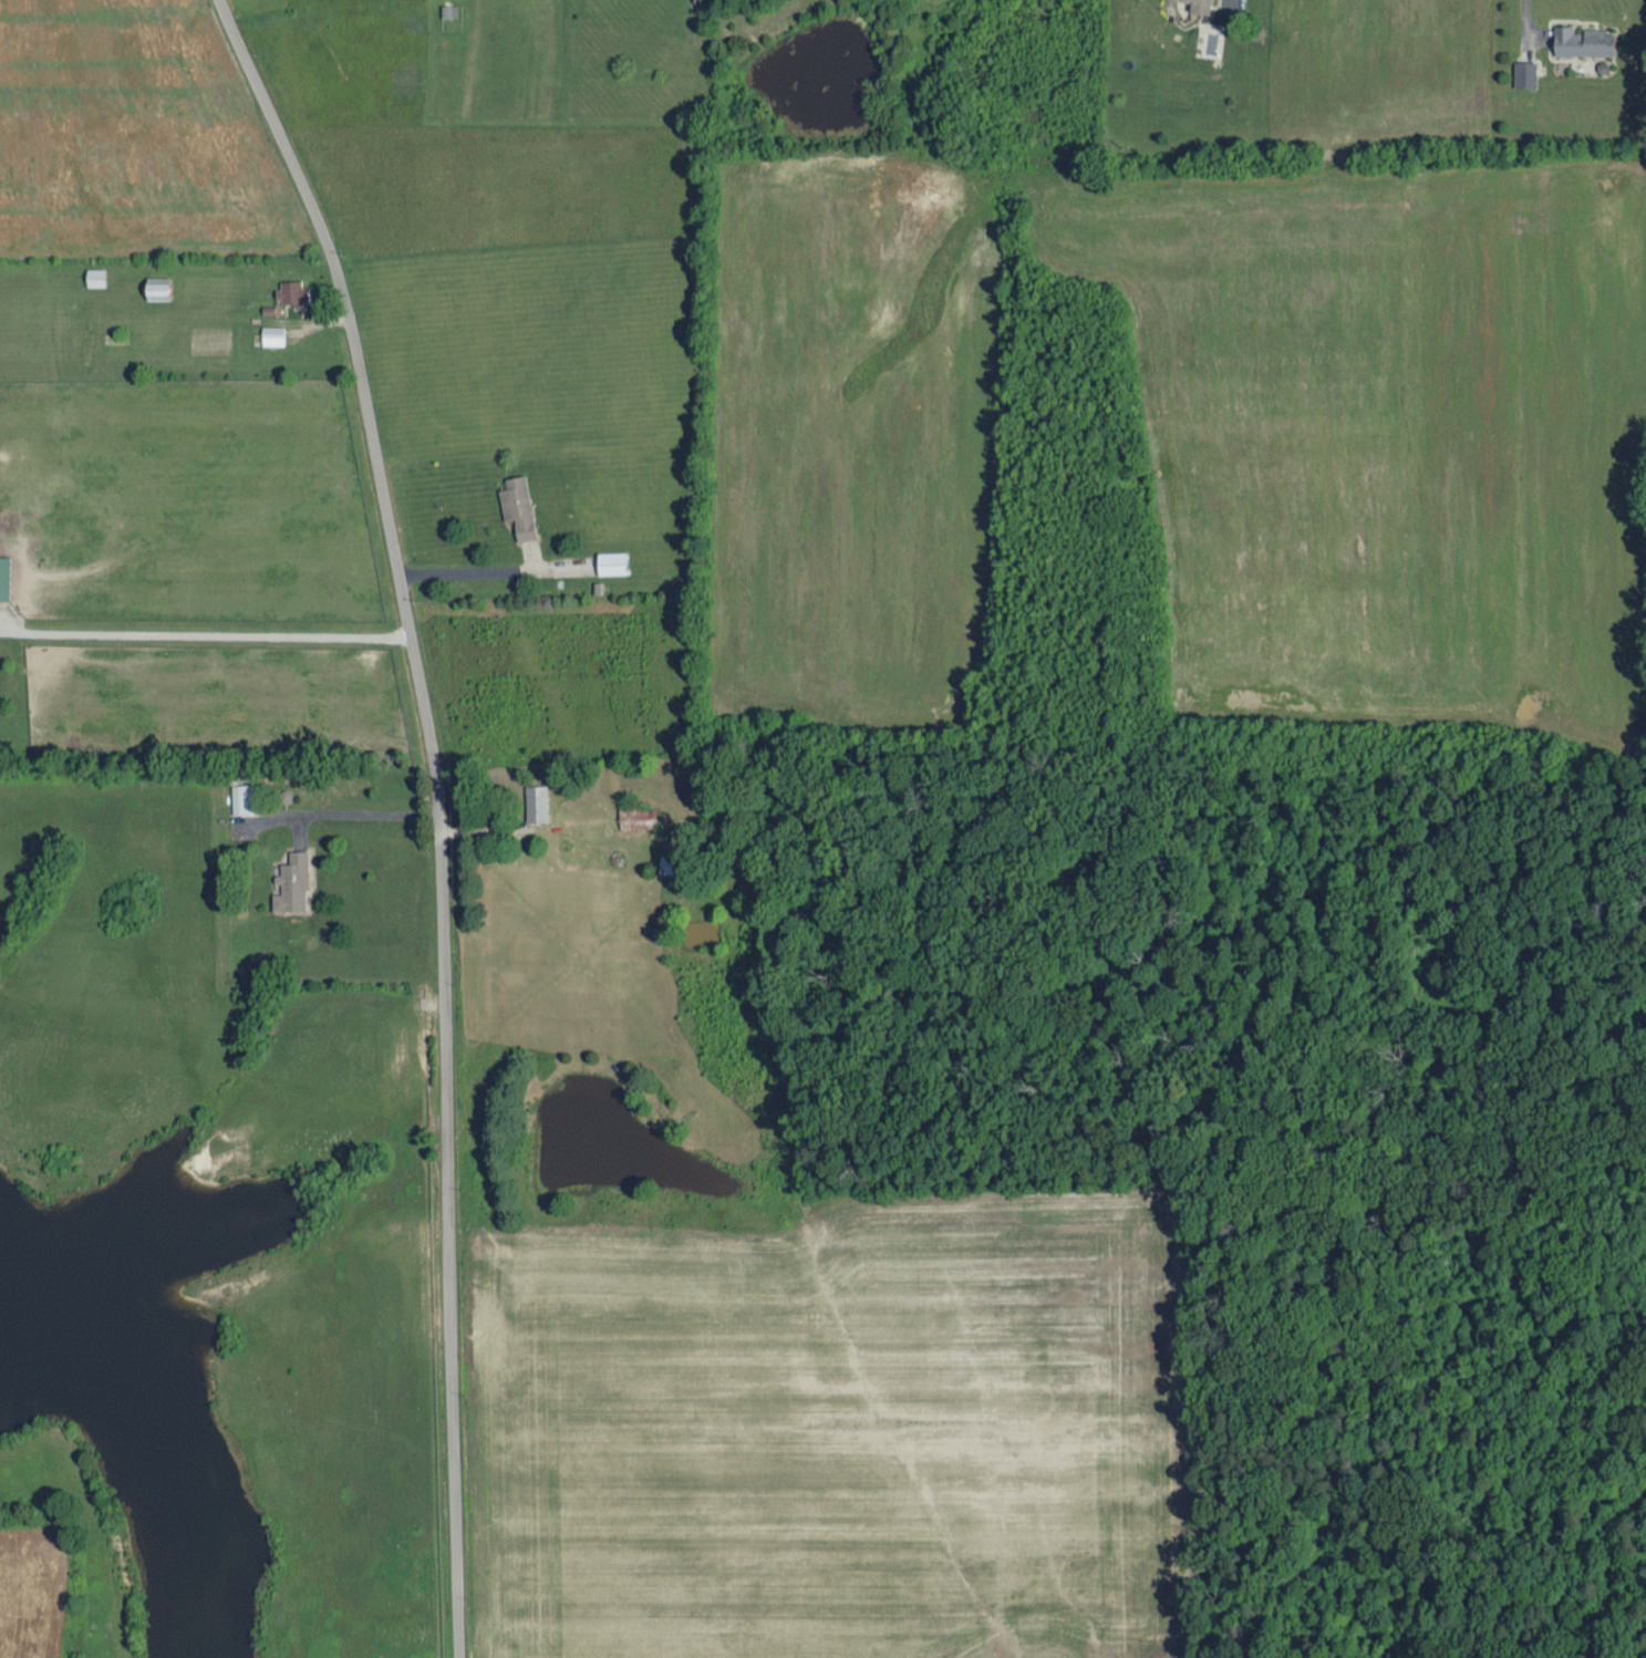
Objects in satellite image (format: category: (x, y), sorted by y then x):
building: (1201, 4)
building: (1583, 40)
building: (1524, 71)
building: (95, 274)
building: (290, 290)
building: (271, 333)
building: (517, 505)
building: (611, 561)
building: (3, 576)
building: (242, 797)
building: (535, 801)
road: (436, 811)
building: (636, 817)
building: (291, 881)

